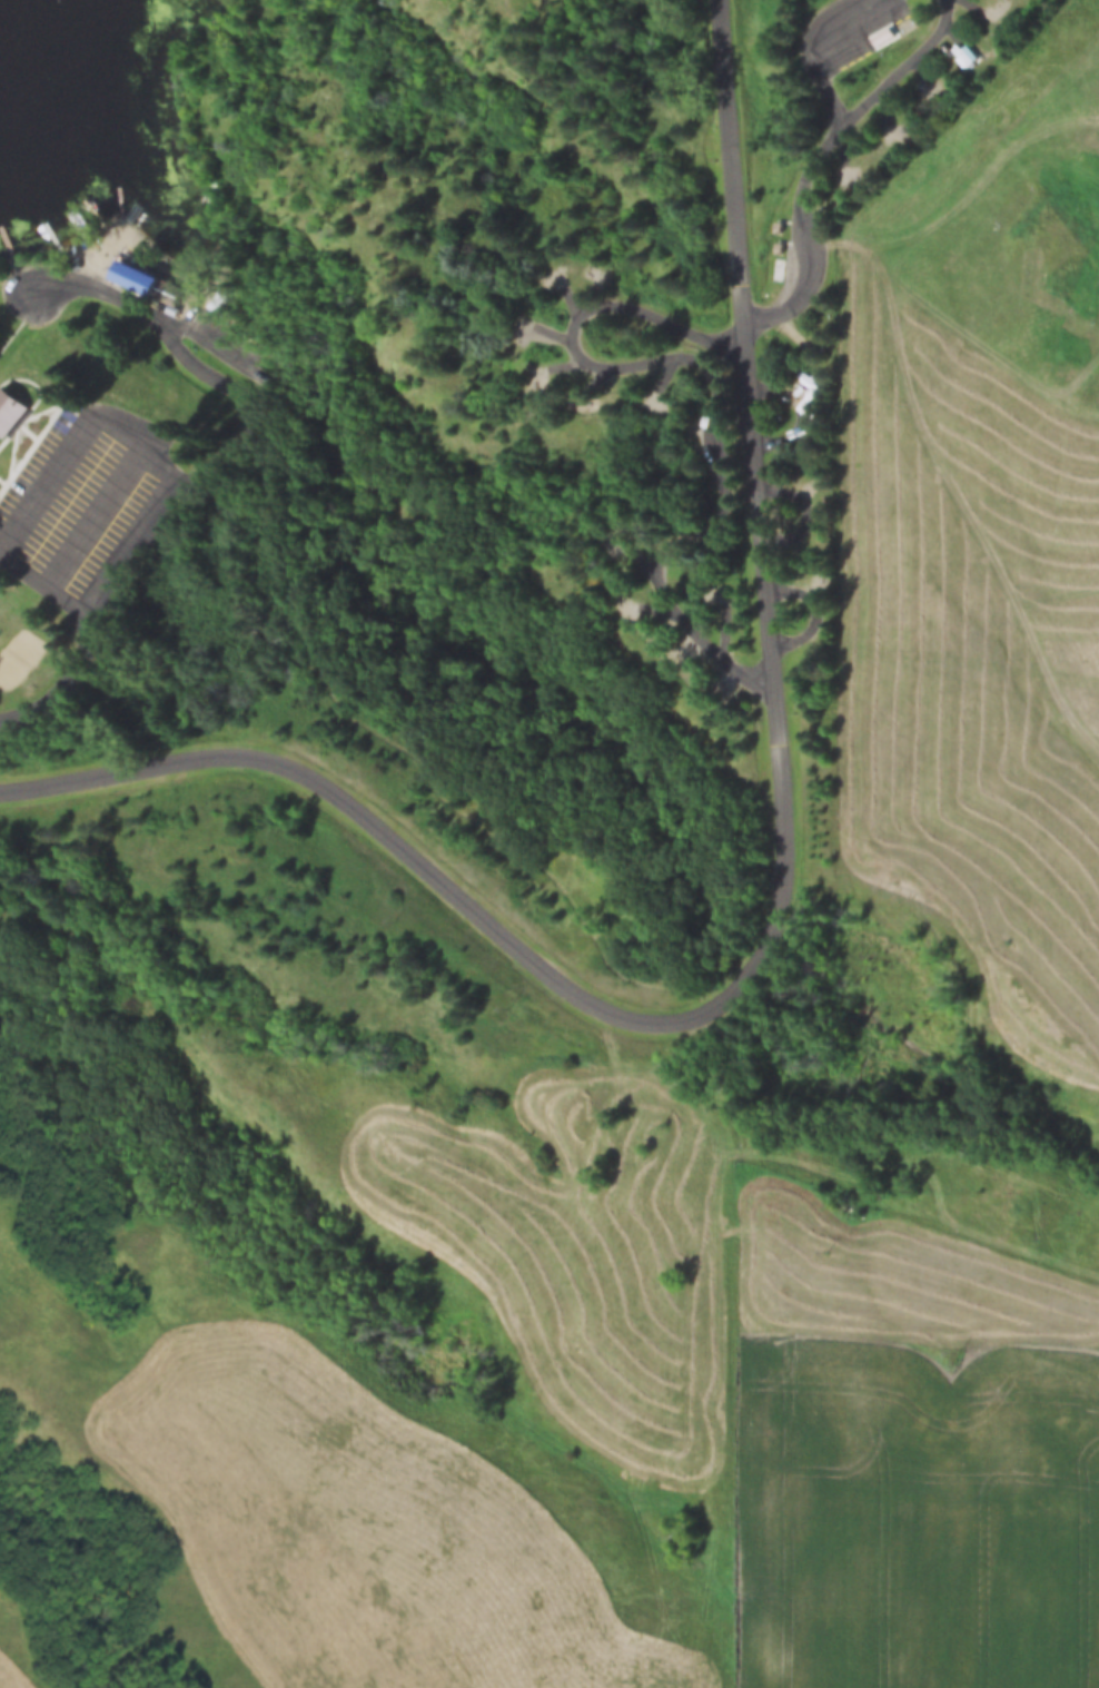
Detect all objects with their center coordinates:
parking lot: (850, 34)
road: (815, 174)
building: (782, 246)
building: (158, 279)
road: (601, 371)
building: (11, 412)
road: (216, 473)
parking lot: (103, 505)
building: (816, 532)
road: (674, 541)
park: (26, 655)
road: (780, 924)
road: (848, 1192)

